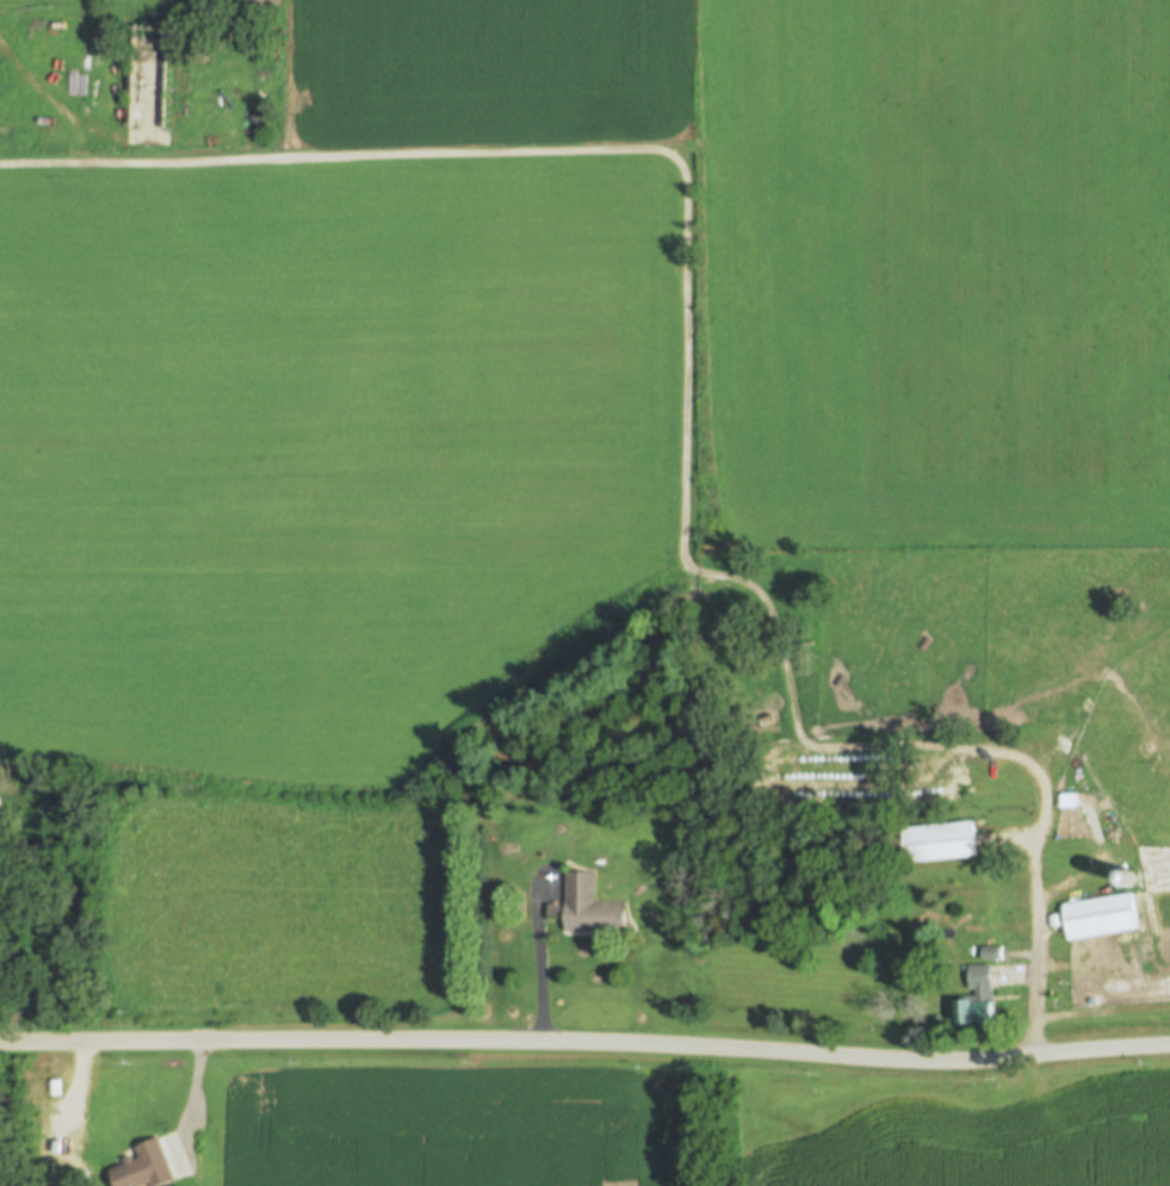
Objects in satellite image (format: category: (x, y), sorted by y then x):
road: (80, 126)
building: (941, 842)
road: (1034, 859)
building: (592, 906)
building: (1104, 918)
building: (995, 952)
road: (538, 954)
building: (979, 999)
road: (586, 1041)
road: (192, 1097)
building: (149, 1167)

